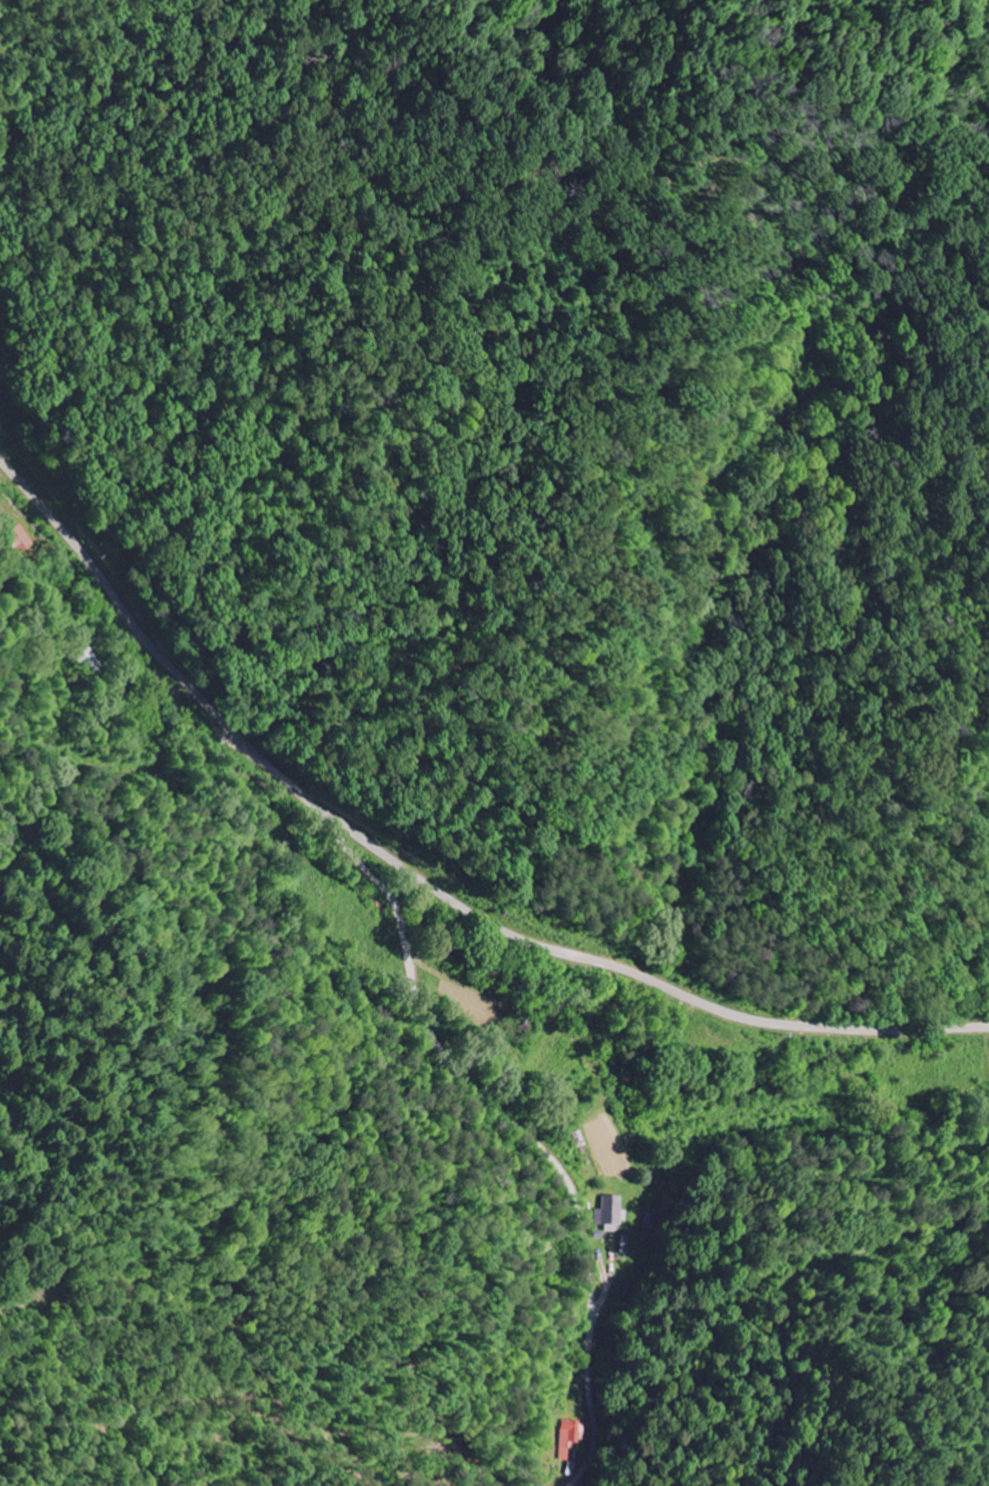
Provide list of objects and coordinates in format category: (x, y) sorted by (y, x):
building: (20, 539)
road: (420, 879)
road: (527, 1129)
building: (612, 1213)

